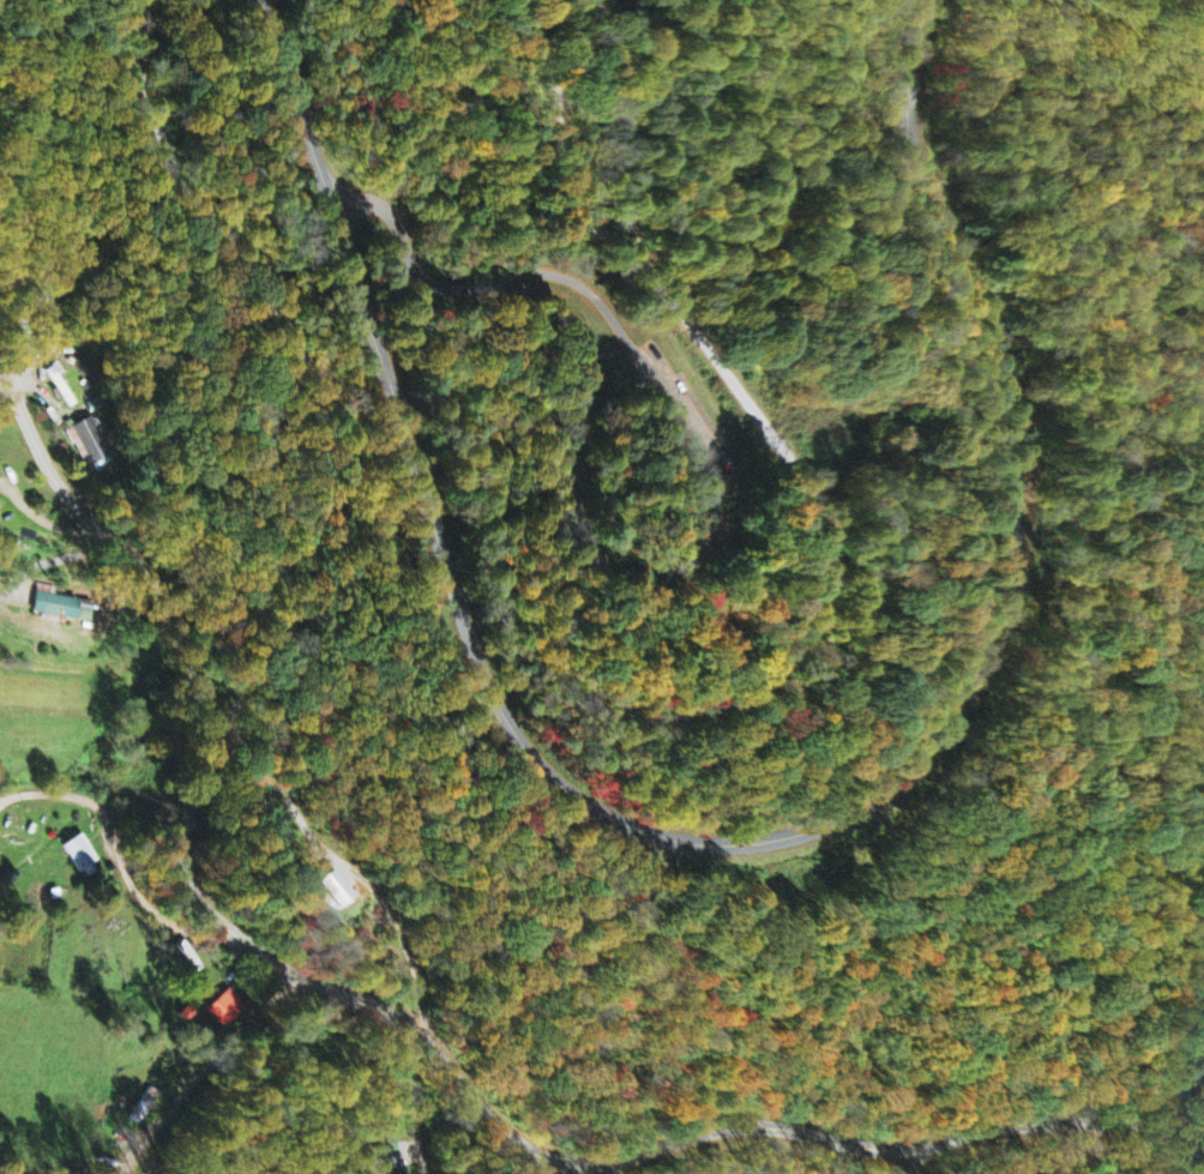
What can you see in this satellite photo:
road: (301, 101)
road: (565, 151)
road: (188, 189)
road: (410, 253)
road: (583, 284)
road: (656, 320)
building: (61, 384)
parking lot: (684, 415)
building: (95, 444)
road: (604, 562)
road: (805, 603)
building: (54, 604)
road: (831, 821)
building: (83, 854)
road: (125, 854)
road: (343, 857)
building: (335, 890)
building: (224, 1009)
road: (421, 1034)
road: (206, 1068)
building: (142, 1106)
road: (419, 1115)
building: (377, 1161)
road: (919, 1161)

